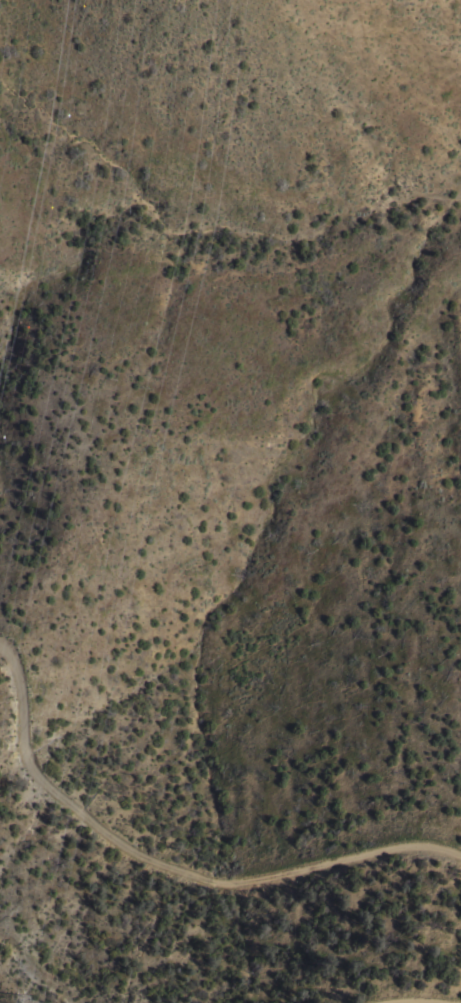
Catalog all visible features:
road: (173, 854)
road: (388, 984)
road: (124, 1000)

